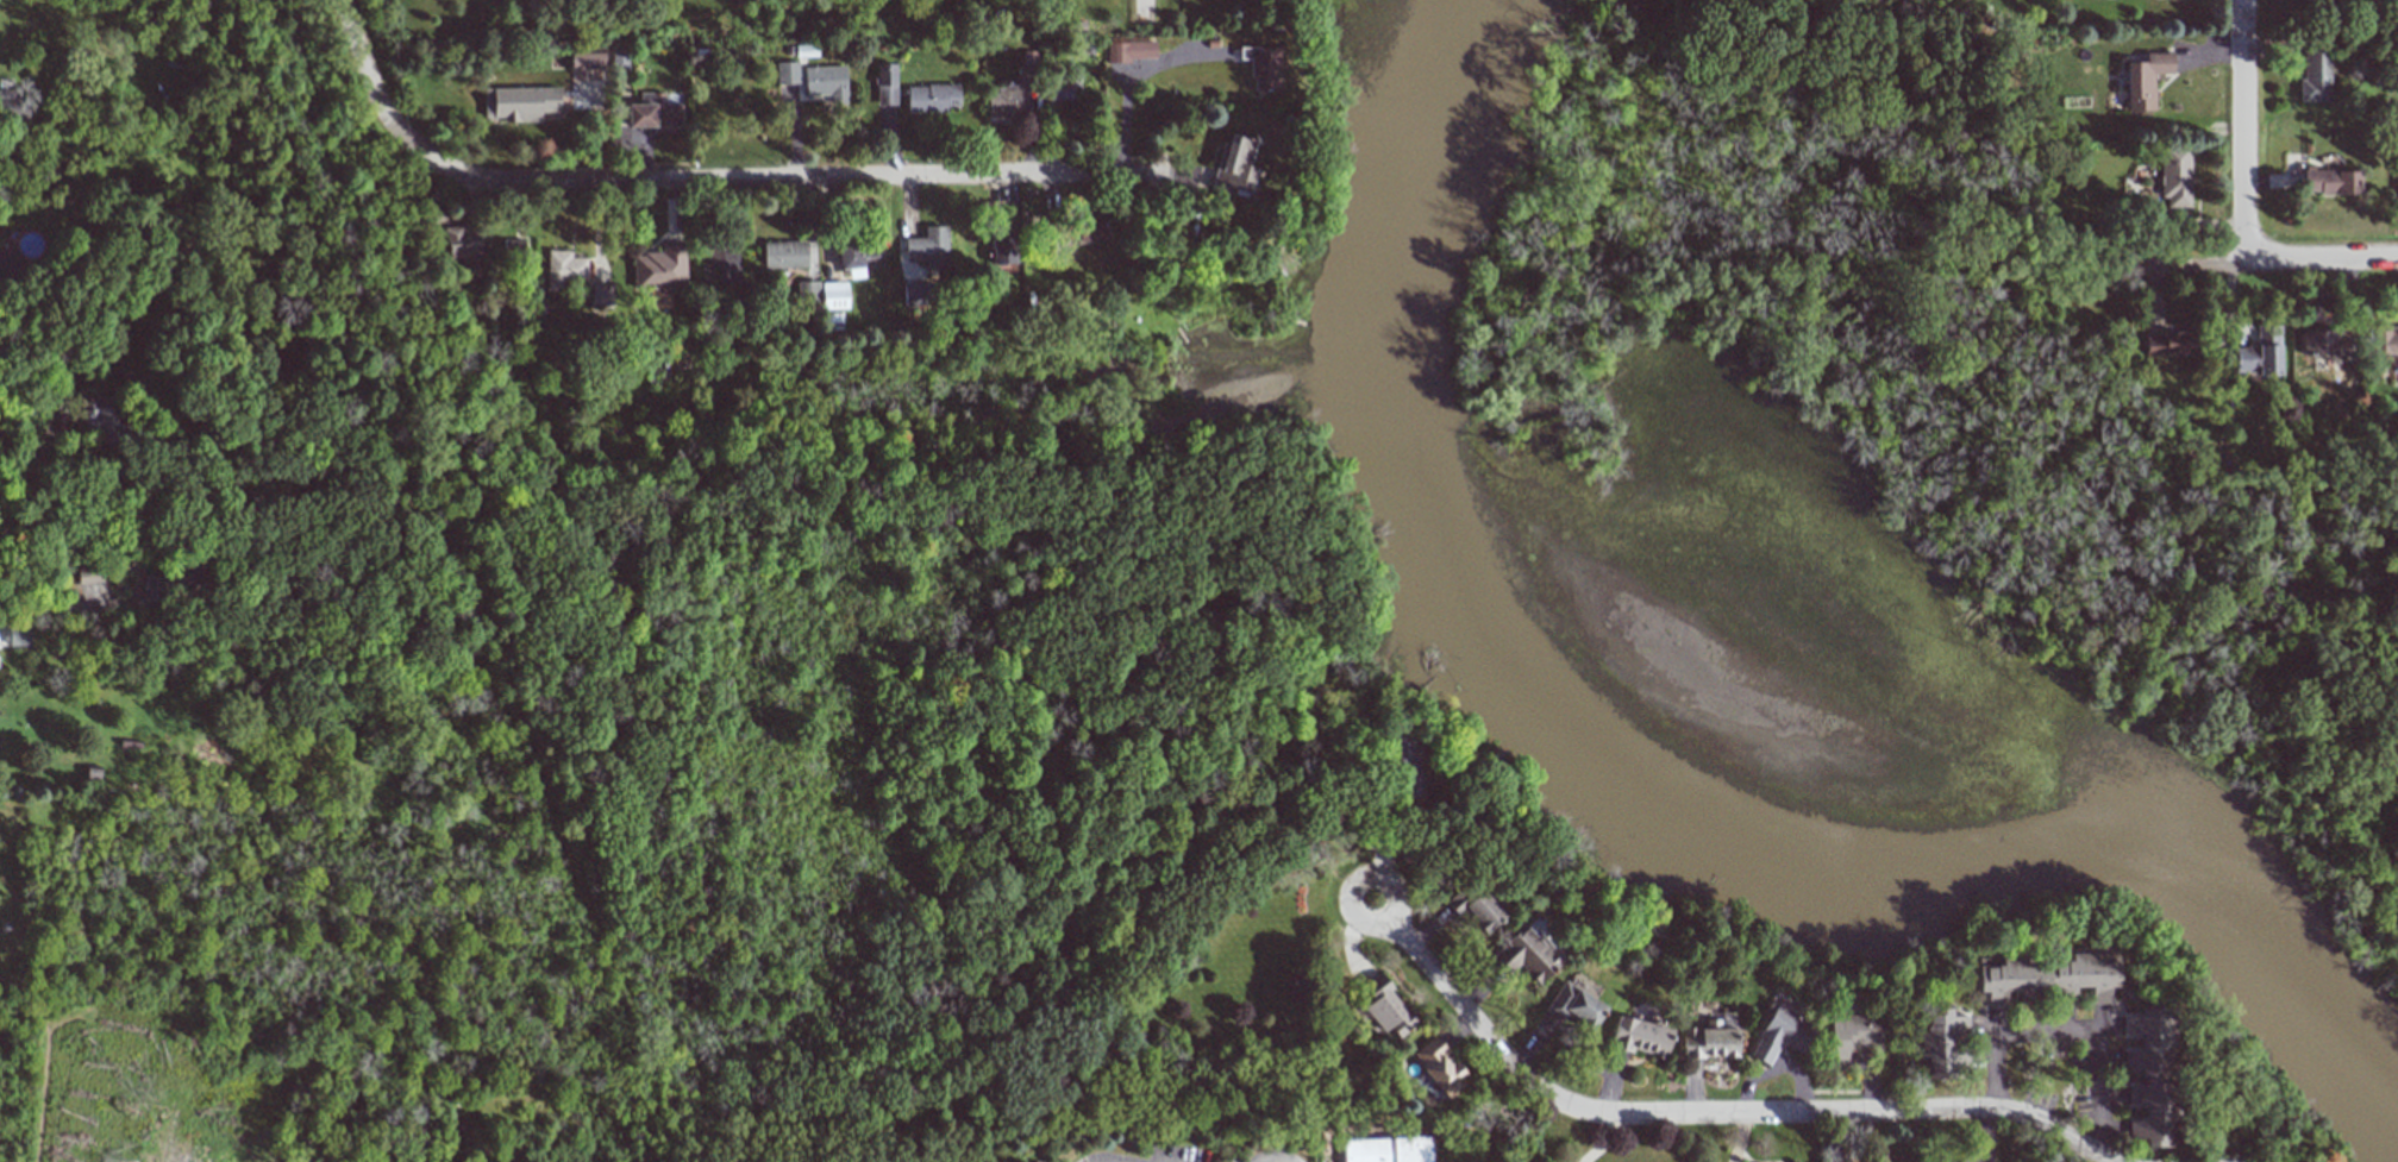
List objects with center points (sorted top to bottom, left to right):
road: (1144, 19)
building: (1131, 50)
building: (587, 58)
building: (620, 59)
building: (1261, 67)
building: (787, 73)
building: (2316, 73)
building: (2146, 80)
building: (826, 82)
building: (887, 83)
building: (1065, 89)
building: (1014, 92)
building: (932, 98)
building: (520, 102)
building: (12, 106)
building: (653, 112)
road: (2244, 131)
building: (1234, 167)
building: (2175, 177)
road: (690, 181)
building: (2331, 181)
building: (1091, 226)
building: (462, 240)
building: (1003, 245)
building: (928, 247)
building: (513, 250)
building: (784, 255)
building: (858, 257)
road: (2321, 260)
road: (2171, 262)
building: (724, 263)
building: (8, 264)
building: (564, 269)
building: (660, 269)
building: (806, 291)
building: (914, 294)
building: (600, 295)
building: (833, 295)
building: (2385, 340)
building: (2327, 341)
building: (2171, 344)
building: (2261, 352)
building: (675, 363)
building: (652, 375)
building: (100, 417)
road: (50, 420)
building: (170, 579)
road: (50, 604)
road: (2394, 630)
building: (19, 635)
river: (1699, 673)
building: (1395, 773)
building: (1470, 906)
building: (1714, 925)
building: (1521, 955)
building: (2040, 978)
building: (1569, 1006)
building: (1380, 1007)
building: (1353, 1020)
road: (2060, 1032)
building: (1777, 1034)
building: (1634, 1036)
building: (1845, 1036)
building: (1704, 1042)
building: (1934, 1043)
building: (1433, 1067)
building: (2147, 1078)
road: (1728, 1113)
road: (1604, 1141)
building: (1386, 1149)
building: (1028, 1161)
building: (1033, 1161)

